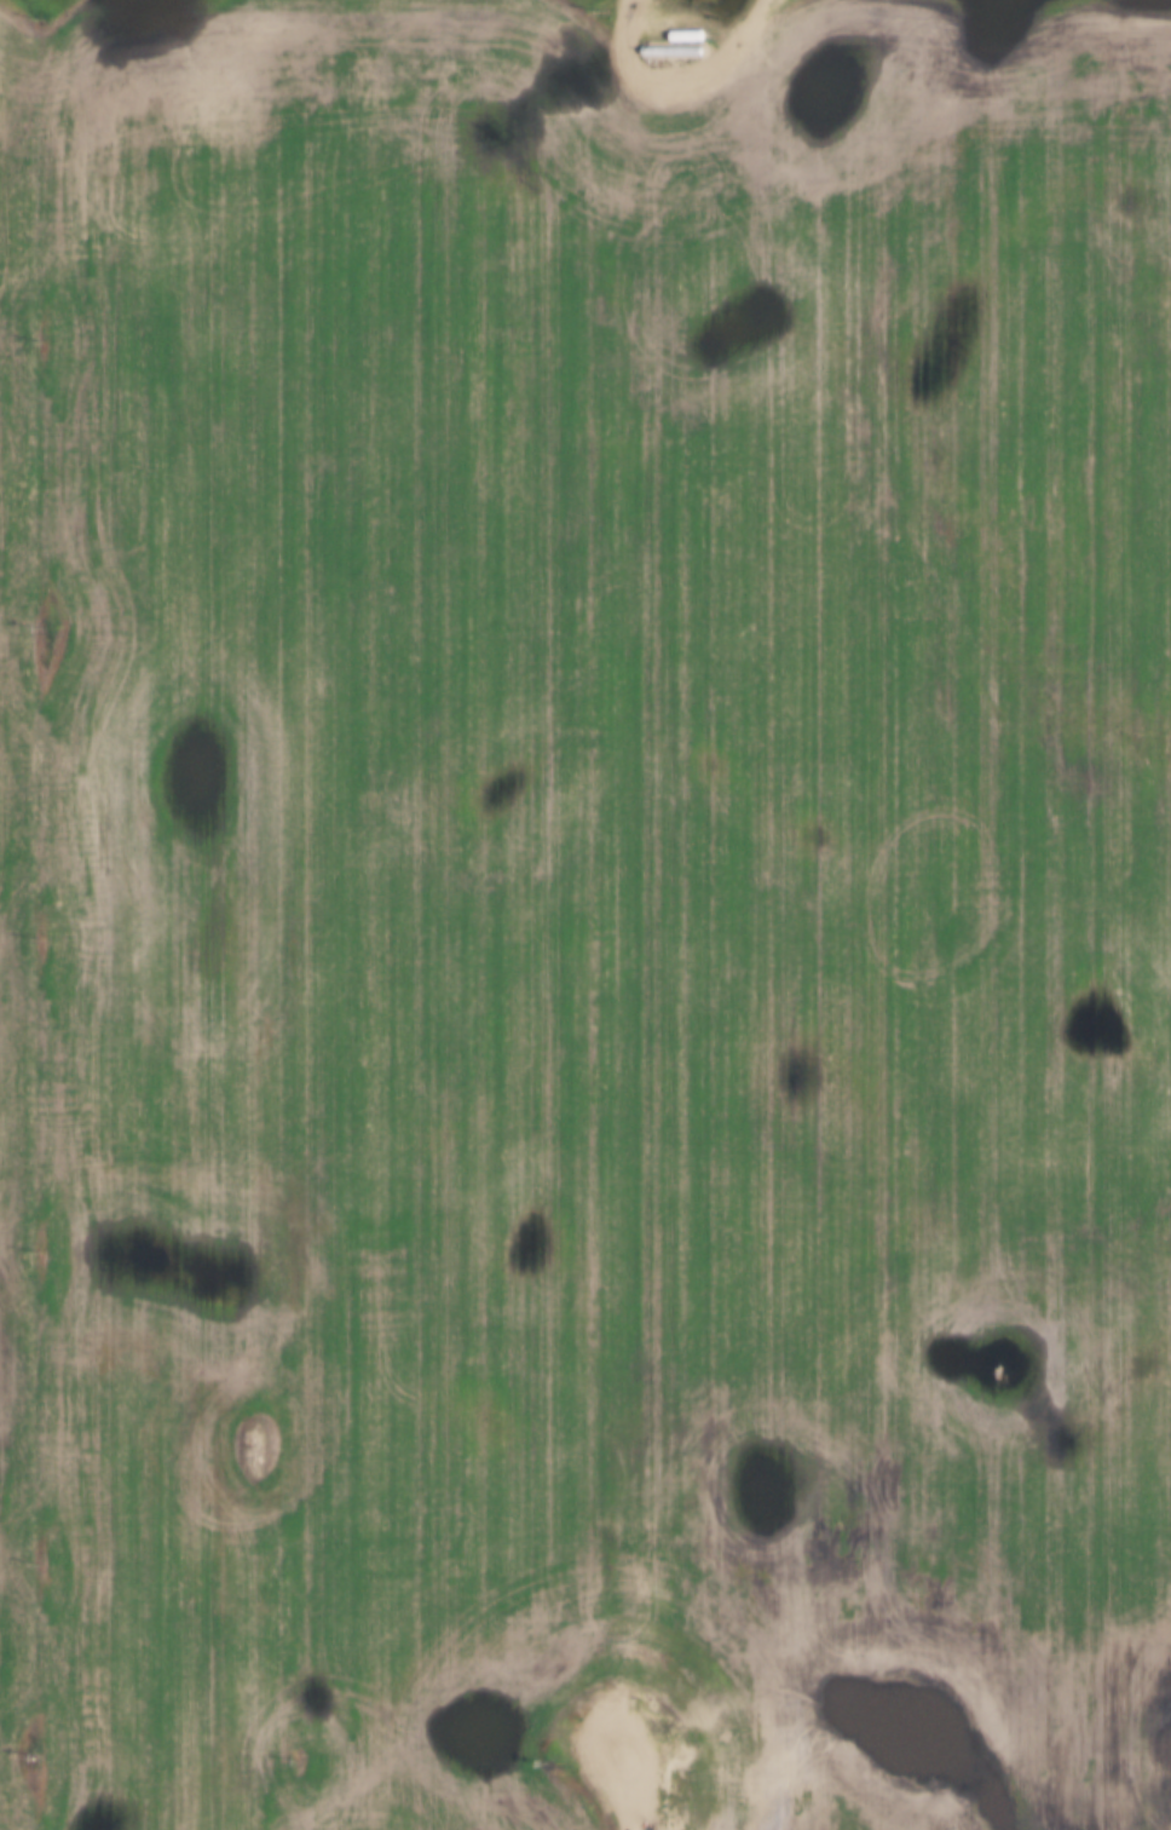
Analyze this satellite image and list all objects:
road: (703, 12)
road: (636, 1707)

